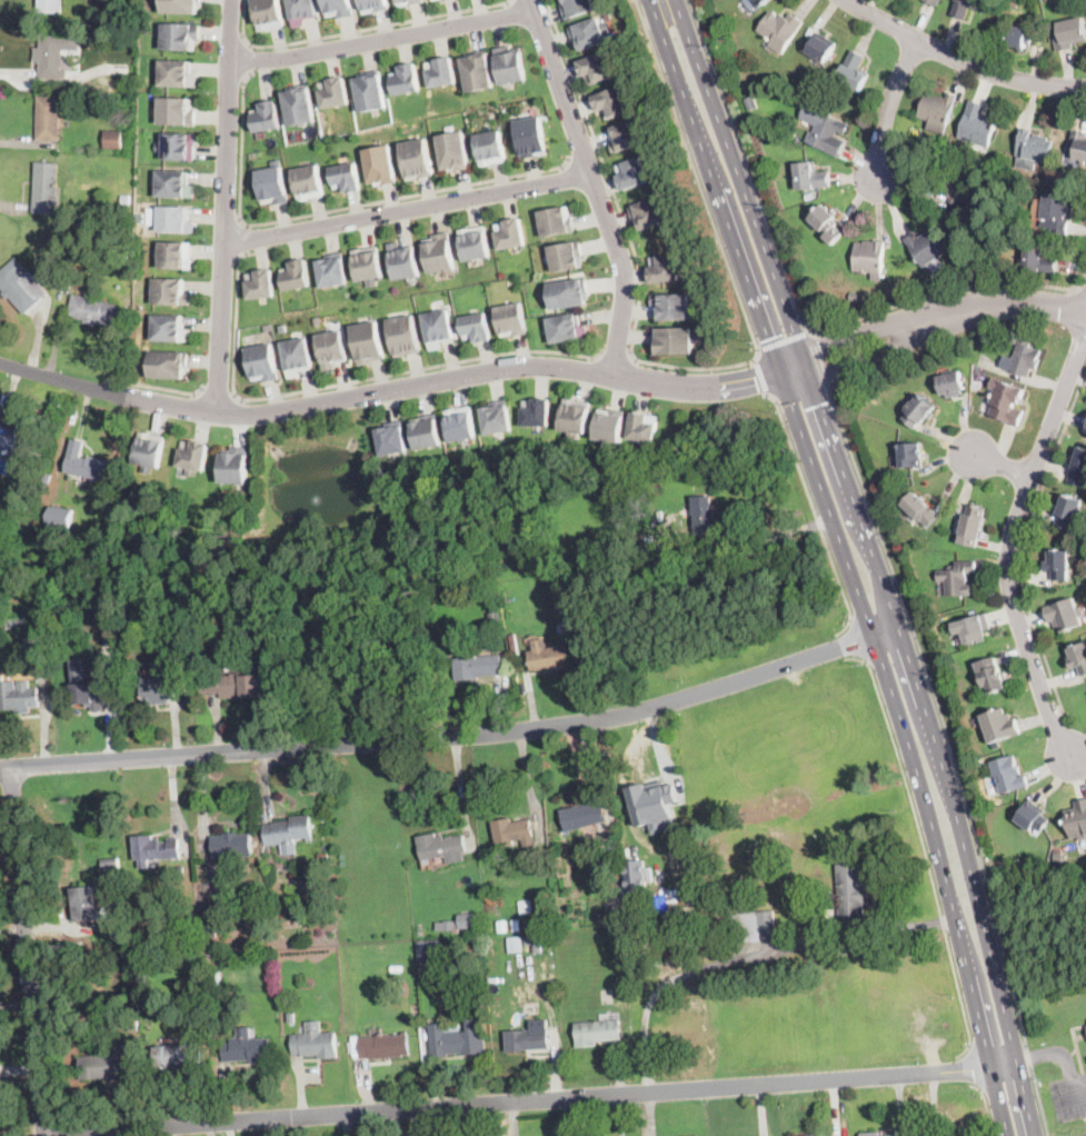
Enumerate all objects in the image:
building: (408, 2)
building: (760, 2)
building: (933, 2)
building: (179, 6)
building: (373, 6)
building: (49, 7)
building: (575, 7)
building: (965, 7)
building: (338, 8)
building: (300, 11)
building: (267, 14)
building: (779, 29)
road: (357, 30)
building: (1069, 33)
building: (587, 34)
building: (180, 36)
building: (1019, 37)
road: (381, 40)
building: (820, 46)
building: (51, 56)
road: (248, 59)
road: (959, 60)
building: (509, 64)
building: (594, 67)
building: (477, 71)
building: (854, 71)
building: (177, 73)
building: (440, 73)
building: (114, 76)
building: (406, 80)
building: (369, 91)
building: (333, 93)
building: (610, 101)
building: (751, 102)
building: (298, 106)
road: (888, 106)
building: (937, 108)
building: (176, 112)
building: (266, 117)
building: (48, 118)
building: (977, 124)
building: (824, 129)
building: (128, 136)
building: (530, 137)
building: (622, 137)
building: (113, 139)
building: (1077, 145)
building: (1034, 146)
building: (177, 147)
building: (490, 148)
building: (454, 151)
road: (581, 152)
building: (417, 159)
building: (380, 166)
building: (630, 173)
building: (810, 176)
building: (345, 178)
building: (309, 182)
road: (741, 182)
building: (271, 183)
building: (173, 185)
road: (594, 186)
building: (44, 187)
building: (964, 191)
building: (126, 197)
road: (226, 207)
road: (407, 209)
building: (140, 211)
road: (330, 211)
building: (647, 212)
building: (1056, 213)
building: (151, 215)
building: (173, 219)
building: (556, 221)
building: (826, 223)
building: (509, 233)
road: (245, 239)
building: (475, 243)
building: (926, 246)
building: (440, 253)
building: (175, 255)
building: (566, 256)
building: (869, 257)
building: (1038, 259)
building: (405, 261)
building: (368, 265)
building: (967, 266)
building: (662, 267)
building: (332, 270)
building: (297, 276)
building: (259, 285)
building: (20, 286)
road: (1080, 289)
building: (169, 292)
building: (566, 293)
building: (854, 297)
road: (795, 298)
building: (132, 302)
building: (669, 306)
road: (999, 307)
building: (92, 310)
building: (318, 320)
building: (511, 320)
building: (267, 326)
building: (169, 328)
building: (283, 328)
building: (438, 328)
building: (476, 328)
building: (566, 329)
road: (854, 333)
building: (403, 336)
traffic signals: (769, 337)
road: (783, 339)
building: (258, 340)
building: (671, 340)
building: (368, 342)
traffic signals: (819, 346)
building: (332, 349)
road: (616, 353)
building: (149, 356)
building: (1026, 356)
building: (297, 357)
road: (817, 357)
road: (864, 358)
building: (262, 362)
building: (168, 363)
building: (190, 363)
road: (698, 369)
road: (794, 369)
road: (759, 376)
traffic signals: (756, 378)
road: (346, 382)
building: (952, 383)
road: (170, 390)
road: (388, 391)
road: (218, 393)
road: (800, 395)
building: (1006, 402)
traffic signals: (820, 403)
building: (919, 411)
building: (537, 413)
building: (576, 417)
building: (497, 418)
building: (461, 425)
building: (610, 426)
building: (644, 427)
building: (1085, 428)
building: (427, 432)
building: (391, 438)
building: (18, 440)
building: (150, 451)
building: (910, 451)
building: (193, 457)
building: (84, 464)
building: (233, 465)
road: (1002, 465)
building: (1078, 468)
building: (46, 477)
building: (29, 491)
building: (921, 510)
building: (1068, 511)
road: (814, 514)
building: (703, 515)
building: (58, 522)
building: (973, 525)
road: (775, 531)
road: (1026, 539)
road: (1009, 546)
road: (847, 562)
building: (1058, 565)
building: (957, 577)
building: (561, 604)
building: (564, 611)
building: (1065, 614)
building: (495, 622)
building: (20, 627)
building: (973, 628)
building: (111, 631)
road: (856, 638)
building: (34, 639)
building: (548, 656)
building: (1078, 658)
building: (28, 662)
building: (477, 667)
building: (992, 675)
building: (233, 685)
building: (89, 688)
building: (160, 689)
building: (17, 695)
building: (998, 725)
road: (442, 739)
road: (950, 744)
road: (657, 746)
road: (936, 746)
building: (1008, 775)
building: (655, 800)
building: (996, 800)
building: (582, 815)
building: (1034, 816)
building: (1077, 820)
building: (512, 831)
building: (288, 833)
road: (920, 839)
building: (232, 845)
building: (442, 847)
building: (155, 849)
building: (322, 858)
building: (1057, 859)
building: (109, 863)
building: (635, 874)
building: (602, 891)
building: (850, 895)
building: (617, 904)
building: (87, 905)
building: (538, 906)
building: (525, 907)
building: (609, 907)
building: (638, 910)
building: (212, 919)
building: (539, 919)
building: (457, 923)
building: (188, 925)
building: (516, 925)
building: (754, 926)
building: (501, 927)
building: (644, 931)
building: (118, 934)
building: (681, 945)
building: (522, 946)
building: (538, 946)
building: (430, 950)
building: (616, 950)
road: (29, 951)
road: (753, 956)
building: (668, 960)
building: (657, 965)
building: (648, 970)
building: (213, 976)
building: (141, 979)
building: (620, 986)
building: (454, 999)
building: (148, 1006)
building: (291, 1015)
building: (136, 1026)
building: (596, 1032)
road: (1080, 1036)
building: (458, 1039)
building: (526, 1039)
building: (316, 1042)
building: (385, 1046)
road: (1077, 1048)
building: (247, 1049)
road: (1072, 1054)
building: (180, 1055)
road: (1063, 1057)
road: (972, 1064)
building: (104, 1065)
building: (677, 1076)
parking lot: (1069, 1097)
road: (1069, 1098)
road: (531, 1099)
road: (987, 1108)
building: (869, 1134)
building: (690, 1135)
building: (811, 1135)
building: (897, 1135)

